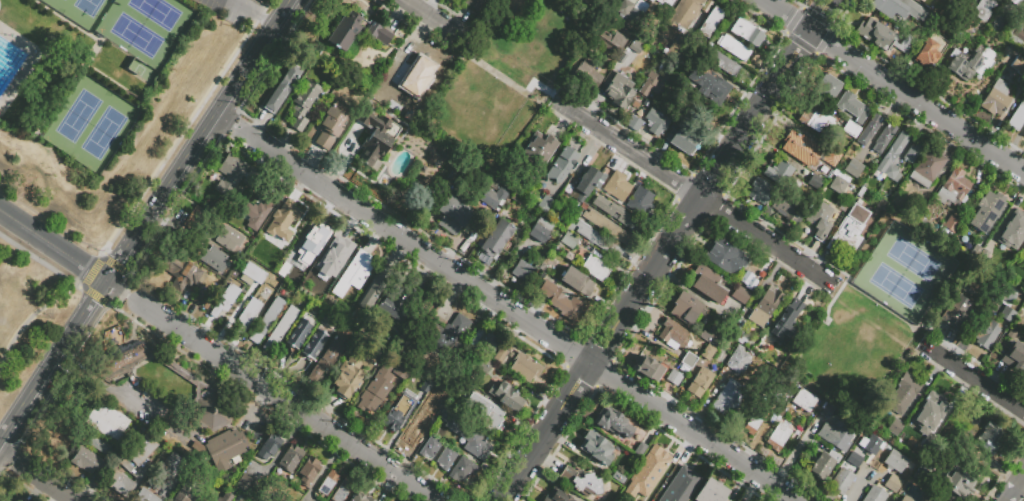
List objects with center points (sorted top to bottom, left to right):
building: (663, 2)
building: (1015, 2)
building: (475, 4)
building: (967, 4)
road: (825, 7)
building: (627, 10)
building: (887, 10)
park: (83, 11)
building: (984, 11)
building: (688, 12)
building: (924, 13)
road: (254, 15)
building: (639, 15)
road: (438, 22)
building: (712, 24)
building: (938, 24)
building: (996, 27)
park: (146, 28)
road: (810, 30)
building: (356, 34)
building: (748, 34)
building: (1017, 37)
building: (885, 39)
building: (612, 44)
building: (638, 47)
building: (734, 49)
building: (931, 53)
building: (676, 54)
building: (1007, 56)
road: (787, 64)
building: (972, 64)
building: (725, 66)
building: (1018, 68)
road: (508, 69)
building: (412, 73)
park: (508, 73)
building: (588, 76)
building: (656, 86)
building: (708, 86)
road: (894, 86)
building: (830, 89)
building: (282, 92)
building: (624, 97)
building: (997, 101)
building: (303, 108)
building: (854, 108)
building: (818, 119)
building: (1018, 120)
park: (93, 121)
road: (227, 121)
building: (657, 124)
building: (635, 125)
building: (852, 129)
building: (330, 131)
building: (870, 131)
building: (1023, 133)
road: (179, 135)
building: (684, 139)
building: (377, 140)
building: (885, 140)
road: (202, 141)
building: (803, 149)
building: (914, 154)
building: (538, 157)
building: (833, 158)
building: (894, 160)
building: (562, 168)
building: (855, 168)
building: (930, 168)
building: (781, 174)
building: (236, 177)
building: (212, 181)
building: (816, 183)
building: (588, 185)
building: (840, 186)
road: (688, 187)
building: (619, 188)
building: (954, 189)
building: (761, 192)
building: (863, 200)
building: (492, 201)
building: (549, 202)
building: (642, 204)
building: (789, 208)
building: (917, 209)
building: (991, 209)
building: (259, 214)
building: (618, 216)
building: (454, 218)
building: (961, 218)
building: (821, 219)
building: (196, 221)
building: (285, 223)
building: (953, 226)
building: (608, 228)
building: (542, 232)
building: (1017, 232)
building: (846, 238)
building: (985, 238)
building: (230, 240)
building: (497, 241)
building: (571, 242)
building: (600, 242)
road: (54, 247)
building: (309, 247)
building: (991, 247)
building: (975, 252)
building: (1022, 252)
building: (335, 258)
building: (726, 259)
building: (212, 260)
road: (39, 261)
building: (1022, 261)
park: (907, 268)
building: (994, 269)
building: (597, 271)
building: (523, 273)
building: (356, 275)
building: (254, 277)
building: (186, 280)
building: (578, 283)
building: (709, 286)
road: (114, 287)
building: (374, 292)
road: (639, 292)
building: (745, 292)
building: (1006, 297)
road: (834, 298)
building: (202, 299)
building: (227, 302)
building: (562, 303)
road: (881, 304)
building: (768, 307)
building: (688, 308)
park: (880, 309)
building: (395, 310)
road: (37, 312)
road: (515, 314)
building: (957, 315)
building: (1008, 315)
building: (249, 318)
building: (418, 322)
building: (268, 323)
building: (787, 323)
building: (281, 332)
building: (302, 332)
building: (736, 334)
building: (987, 335)
building: (445, 337)
building: (714, 337)
building: (675, 338)
building: (1022, 340)
building: (318, 343)
building: (486, 344)
building: (709, 354)
building: (501, 357)
road: (58, 359)
building: (1021, 359)
building: (329, 360)
building: (690, 362)
building: (740, 363)
building: (483, 367)
building: (651, 368)
building: (526, 369)
building: (403, 372)
building: (353, 373)
road: (973, 376)
building: (676, 378)
building: (701, 385)
building: (199, 386)
building: (786, 387)
building: (427, 388)
road: (276, 395)
building: (905, 396)
building: (373, 397)
building: (507, 398)
building: (729, 400)
building: (441, 401)
building: (806, 402)
building: (935, 409)
building: (399, 414)
building: (488, 415)
building: (446, 419)
building: (612, 422)
building: (756, 422)
building: (108, 424)
building: (897, 429)
building: (417, 432)
building: (843, 436)
building: (779, 439)
road: (4, 440)
building: (471, 440)
building: (927, 440)
building: (990, 440)
building: (93, 446)
building: (871, 447)
building: (235, 448)
building: (271, 448)
building: (431, 449)
building: (142, 450)
building: (597, 451)
road: (5, 453)
building: (447, 460)
building: (658, 460)
building: (292, 461)
building: (855, 462)
building: (86, 463)
building: (897, 463)
building: (824, 466)
building: (126, 467)
building: (170, 469)
road: (1003, 469)
building: (464, 472)
building: (310, 473)
building: (926, 478)
road: (43, 479)
building: (583, 483)
building: (843, 483)
building: (119, 484)
building: (679, 484)
building: (894, 485)
building: (959, 485)
building: (329, 486)
road: (1014, 486)
building: (247, 487)
building: (343, 492)
building: (712, 493)
building: (360, 496)
building: (560, 496)
building: (876, 496)
building: (145, 497)
building: (228, 498)
building: (181, 499)
building: (905, 499)

